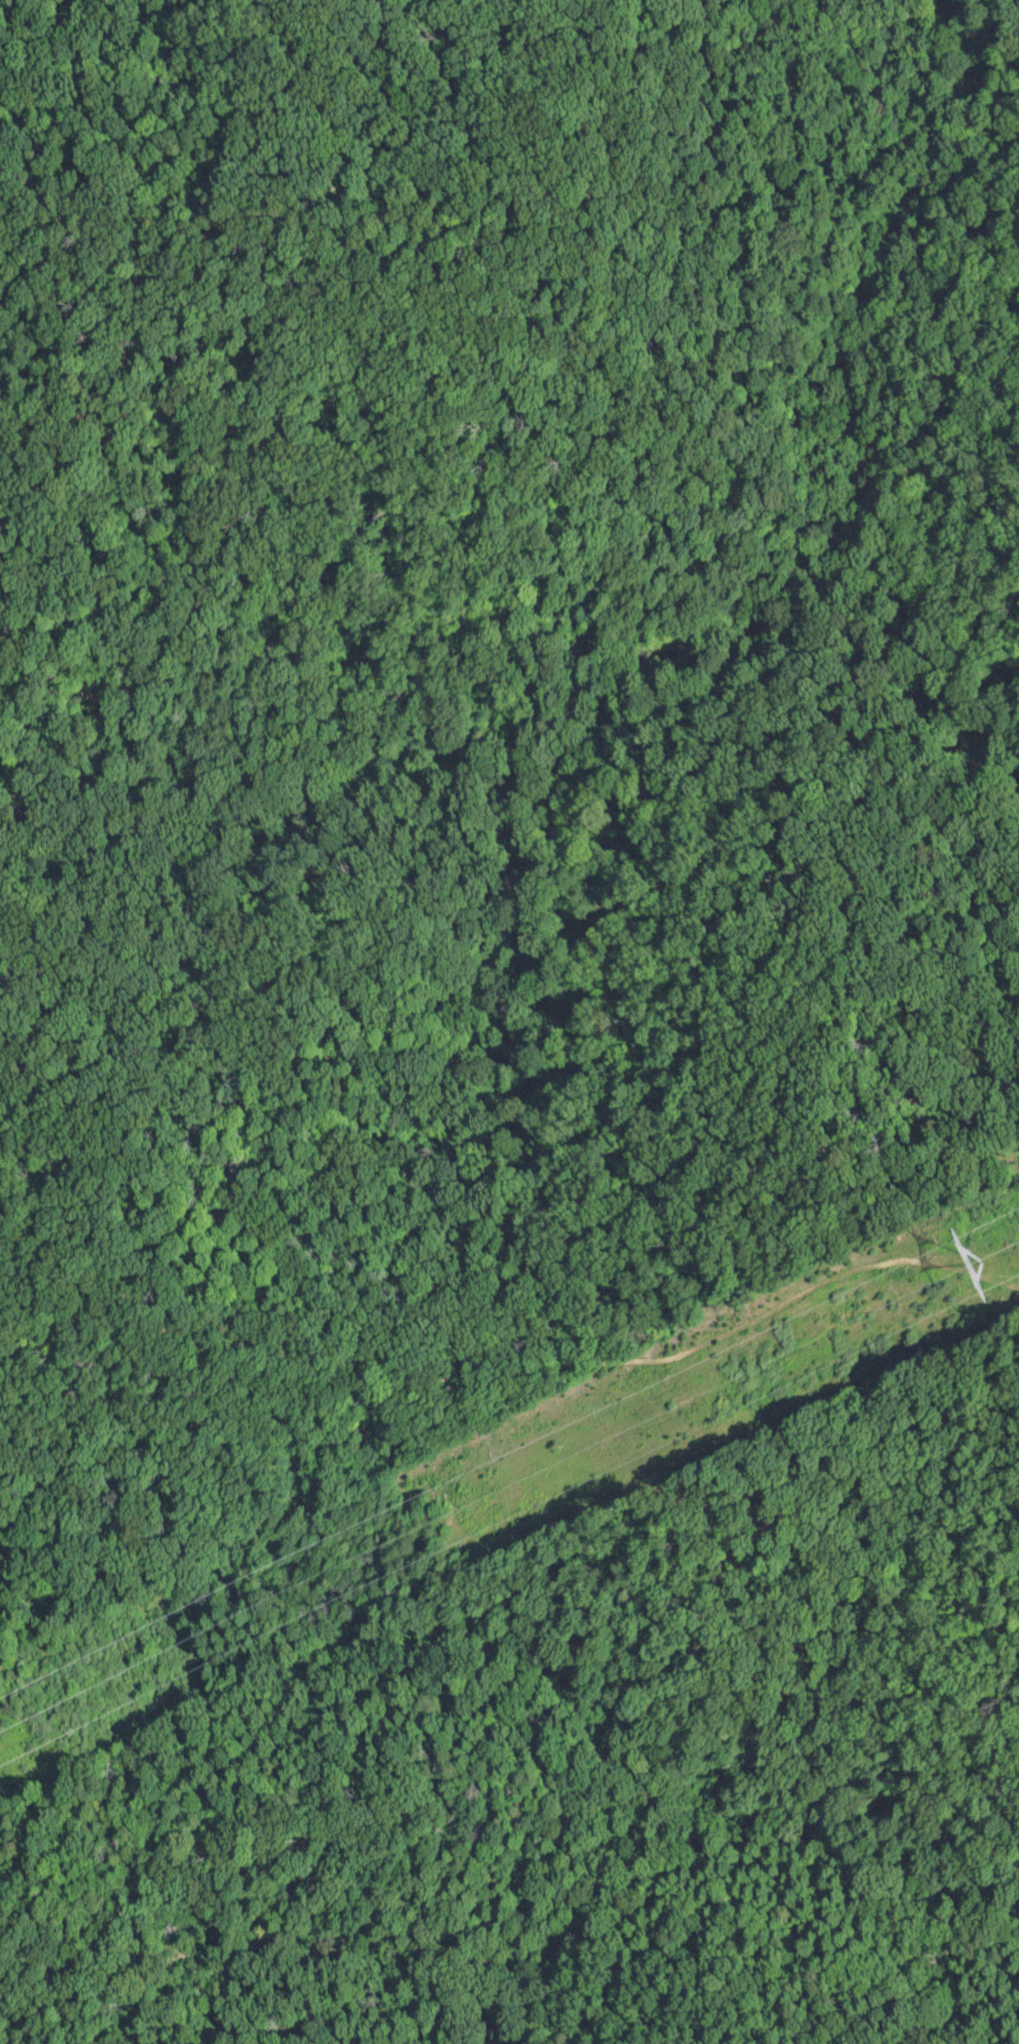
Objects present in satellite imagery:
power tower: (980, 1262)

